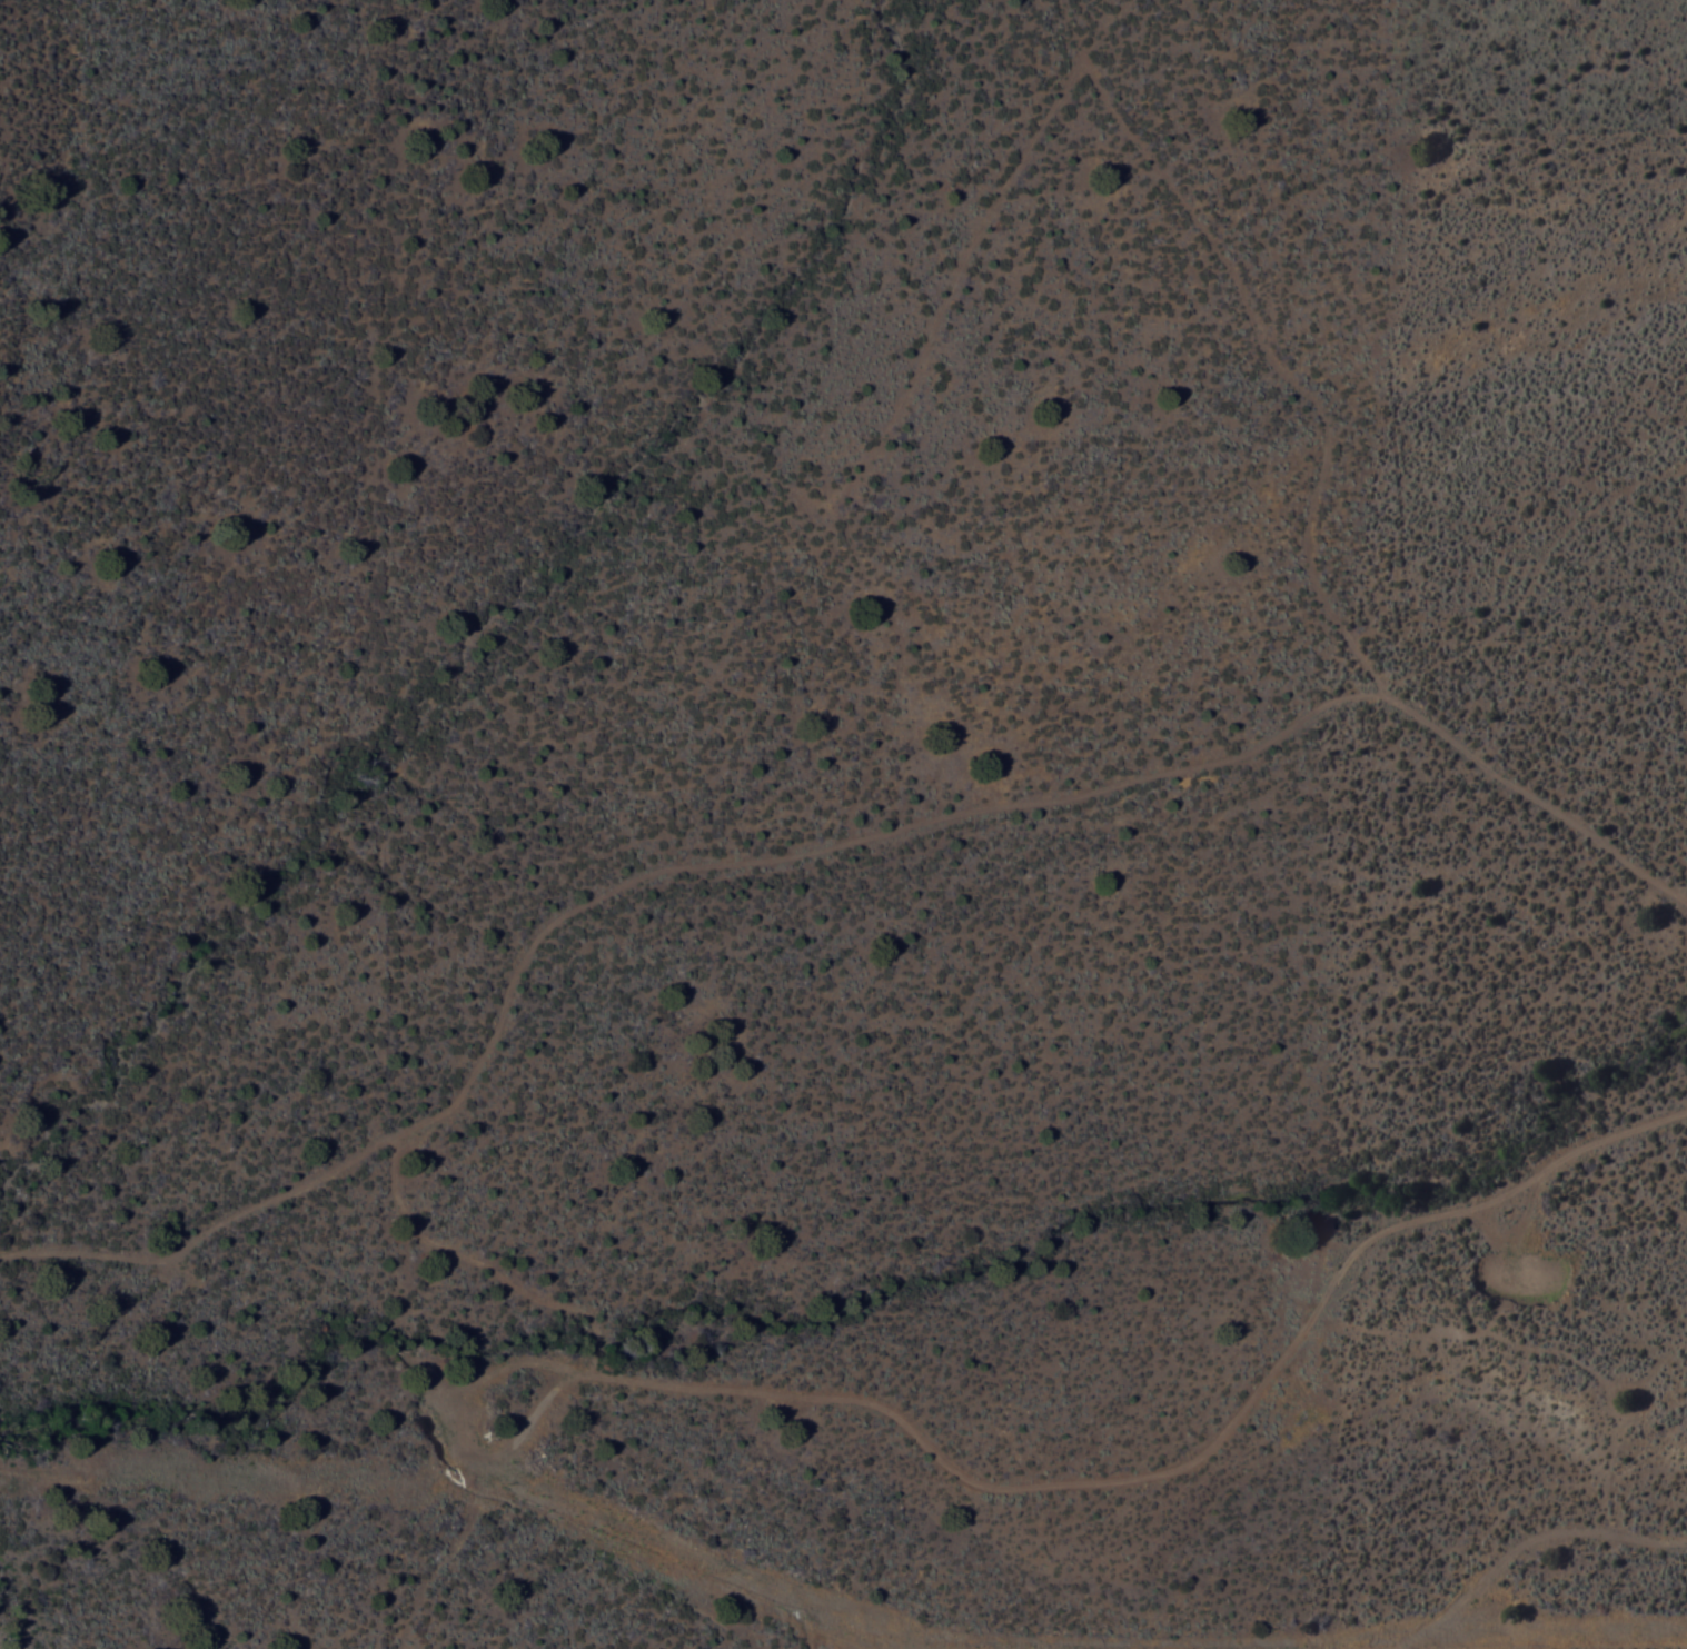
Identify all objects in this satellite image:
road: (1260, 339)
road: (812, 855)
road: (1524, 1540)

